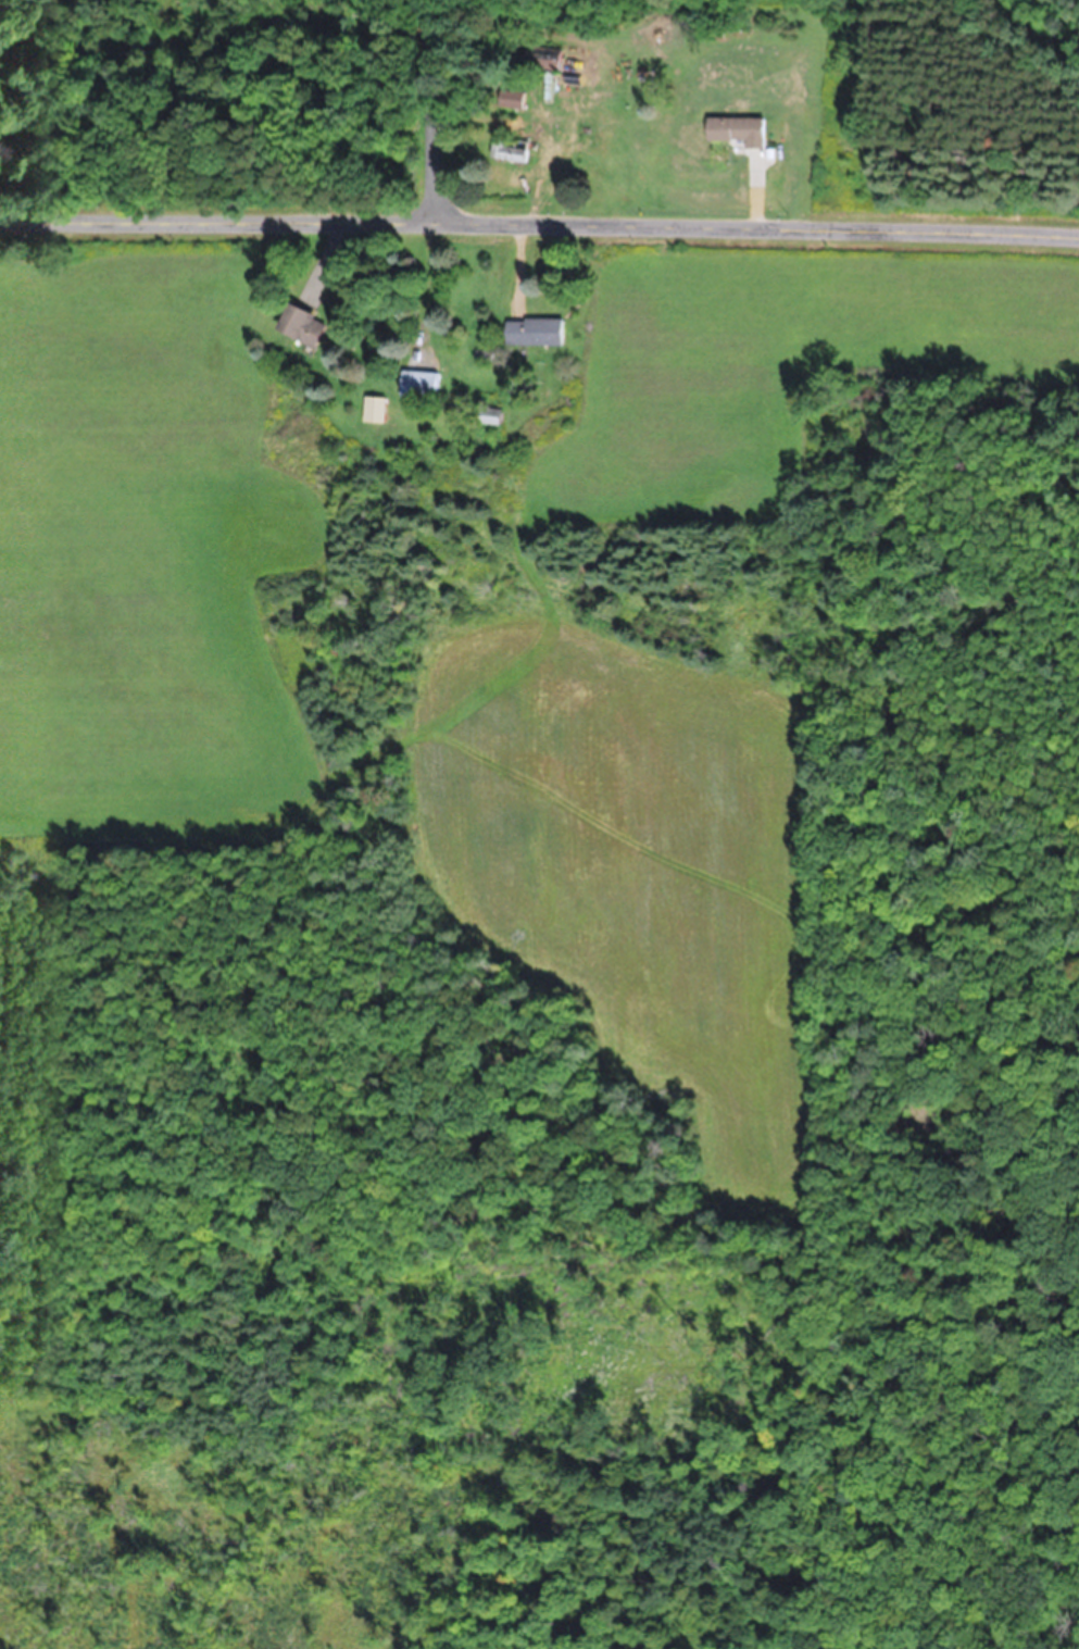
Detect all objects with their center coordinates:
building: (543, 58)
park: (956, 98)
road: (440, 109)
building: (736, 129)
building: (507, 149)
road: (539, 218)
building: (300, 325)
building: (532, 332)
building: (417, 384)
building: (372, 409)
building: (489, 415)

